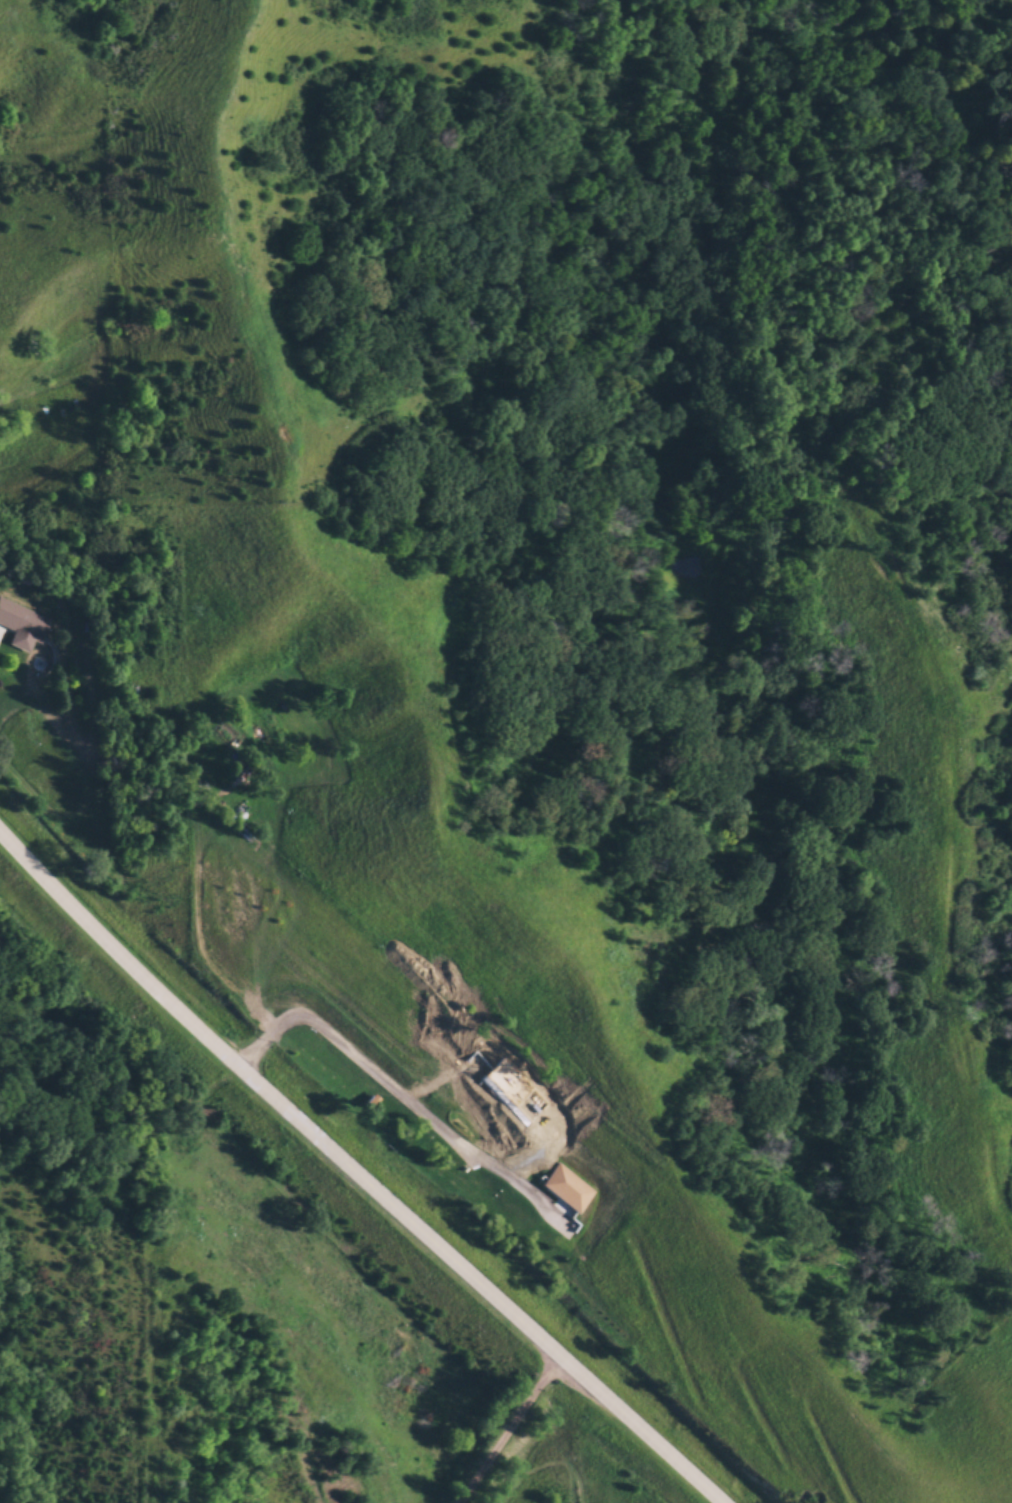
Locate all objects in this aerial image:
building: (23, 620)
road: (391, 1092)
road: (343, 1174)
road: (501, 1432)

